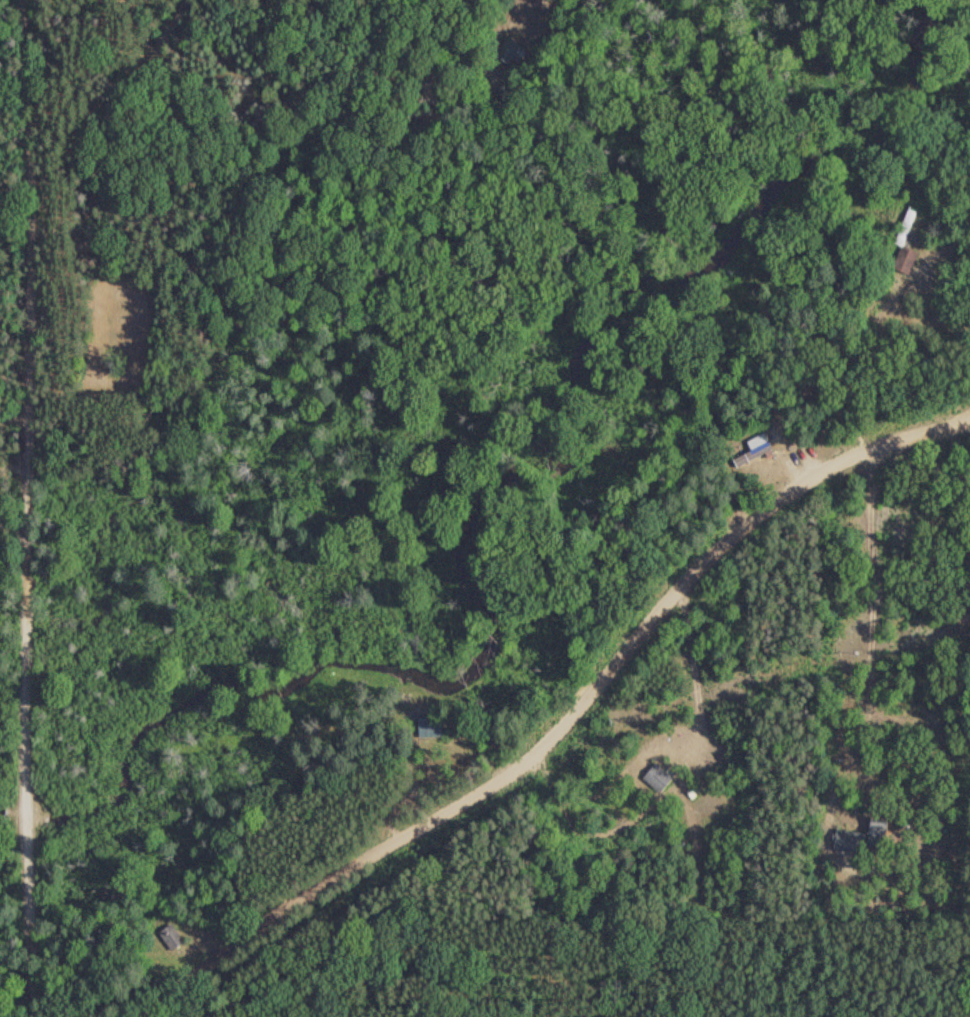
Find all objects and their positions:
building: (904, 226)
road: (23, 401)
road: (563, 721)
building: (655, 778)
road: (15, 857)
road: (34, 910)

